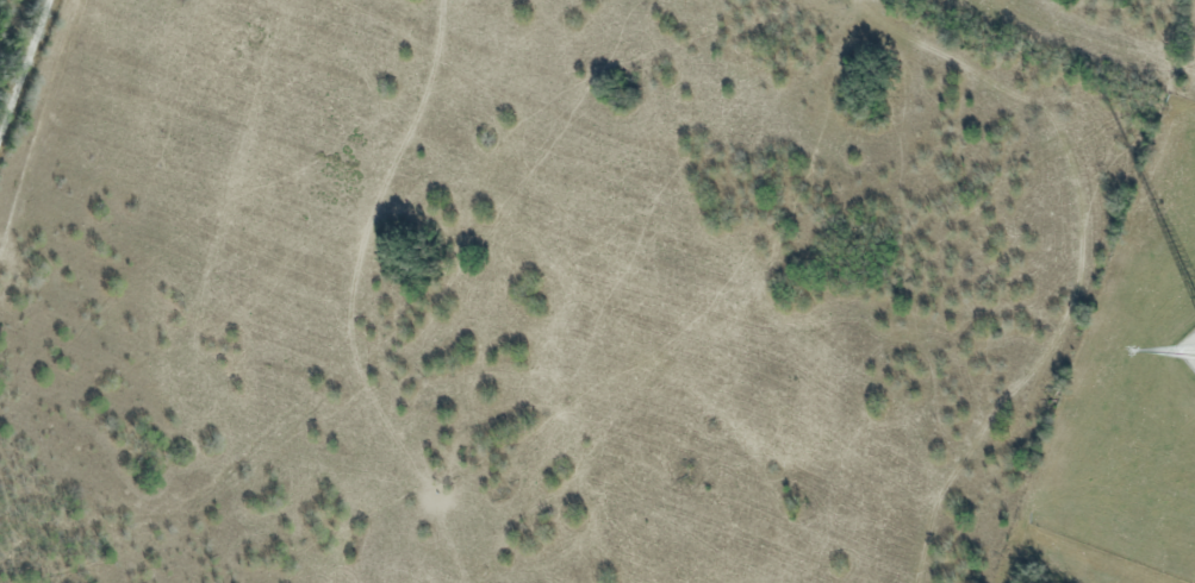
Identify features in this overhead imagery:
road: (1044, 54)
road: (20, 58)

